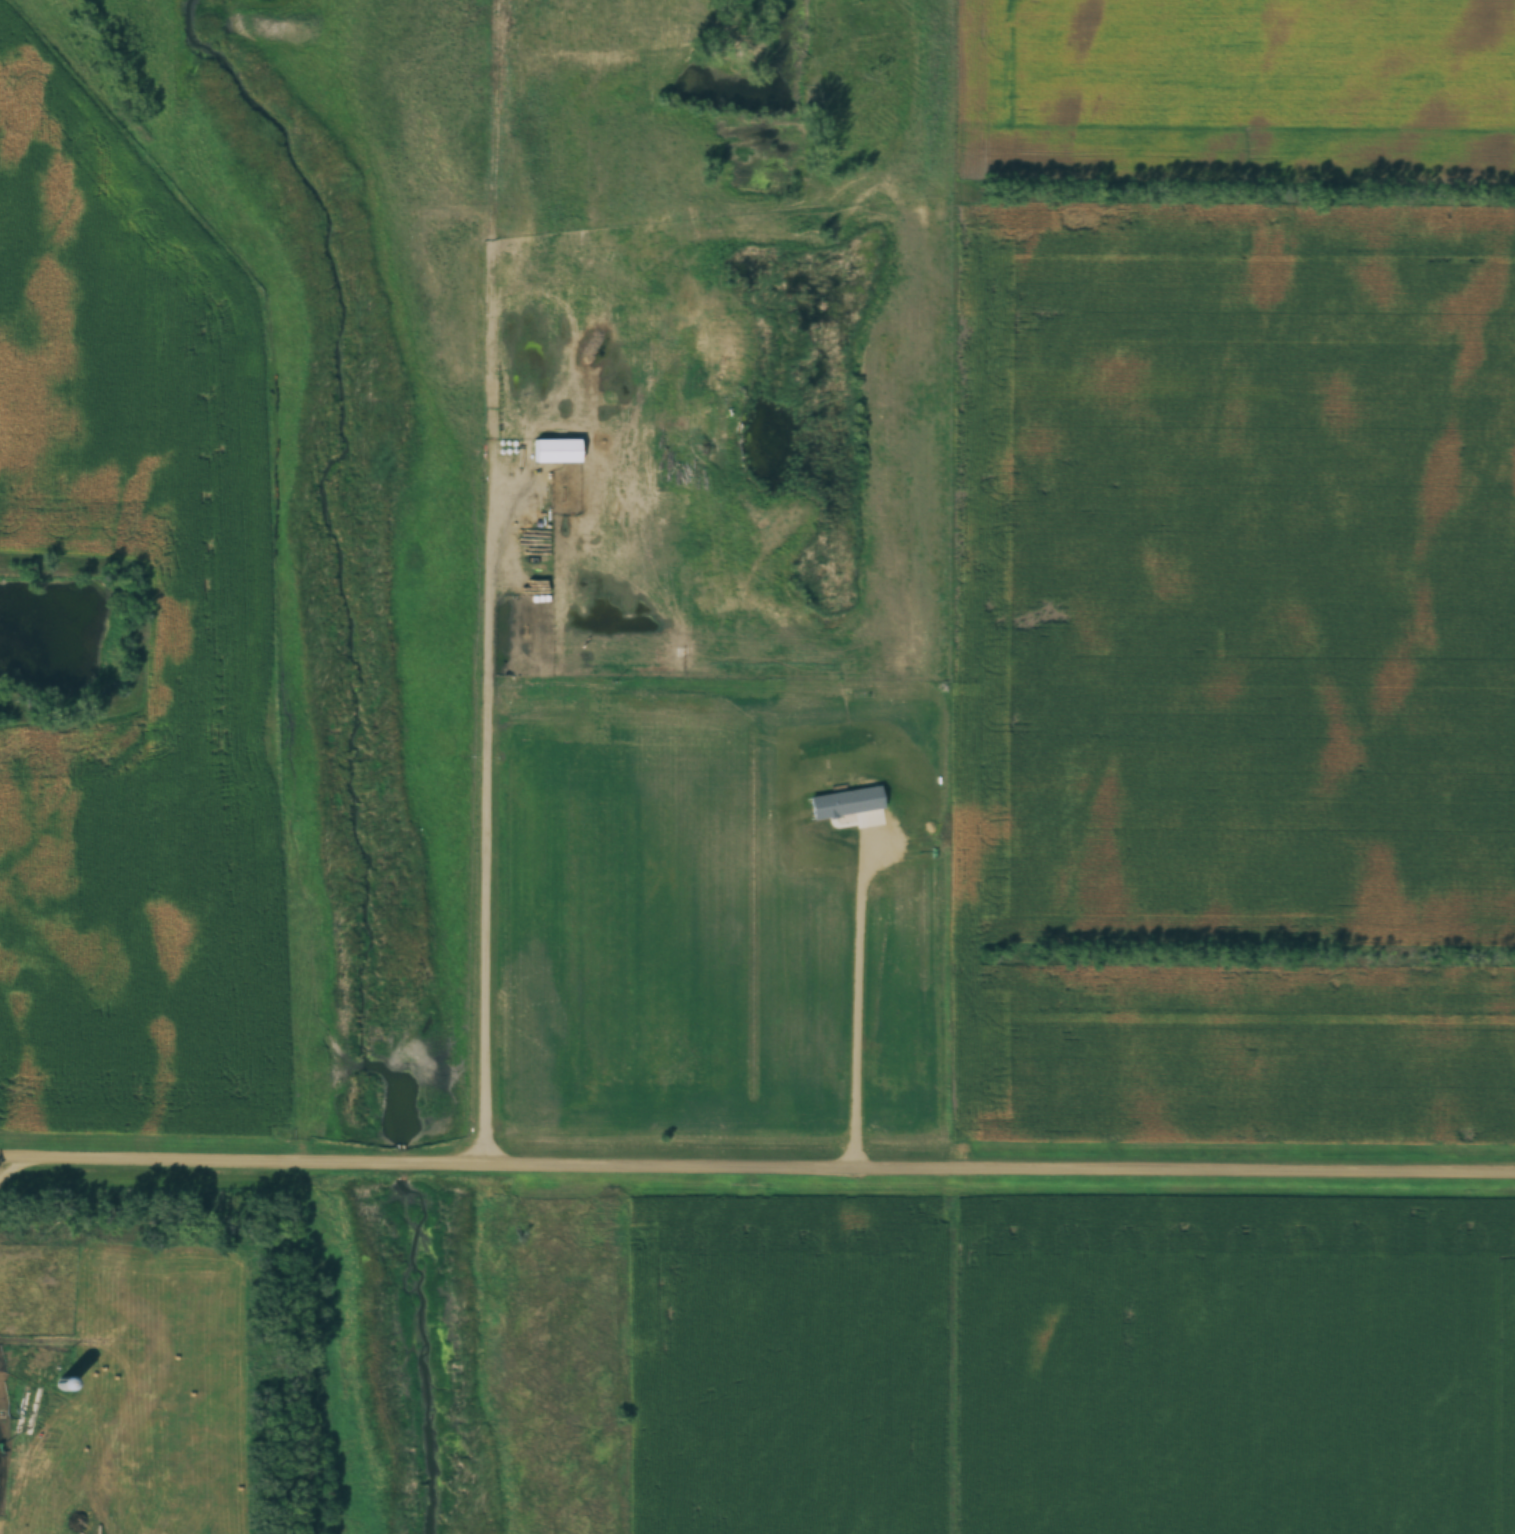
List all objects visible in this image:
road: (475, 586)
road: (757, 1176)

